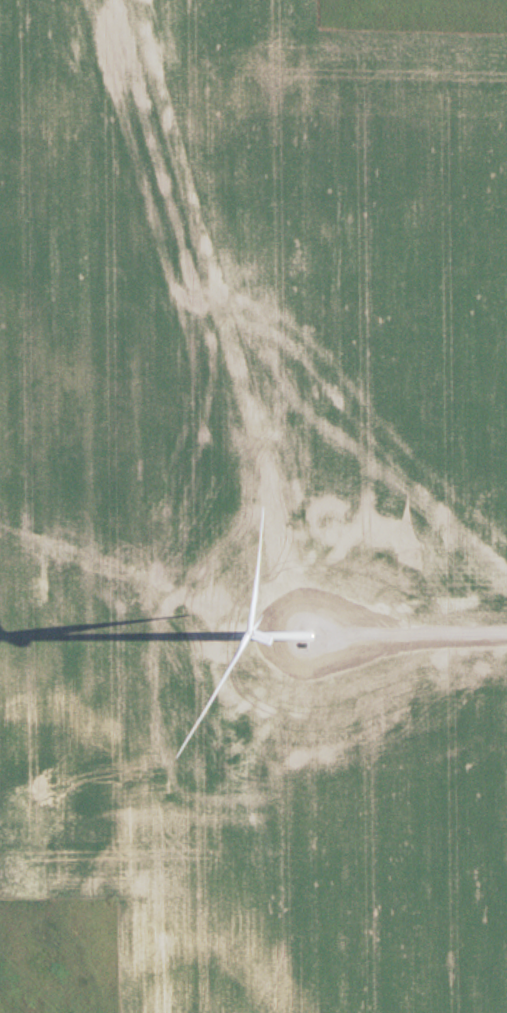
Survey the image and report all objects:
wind turbine: (314, 637)

